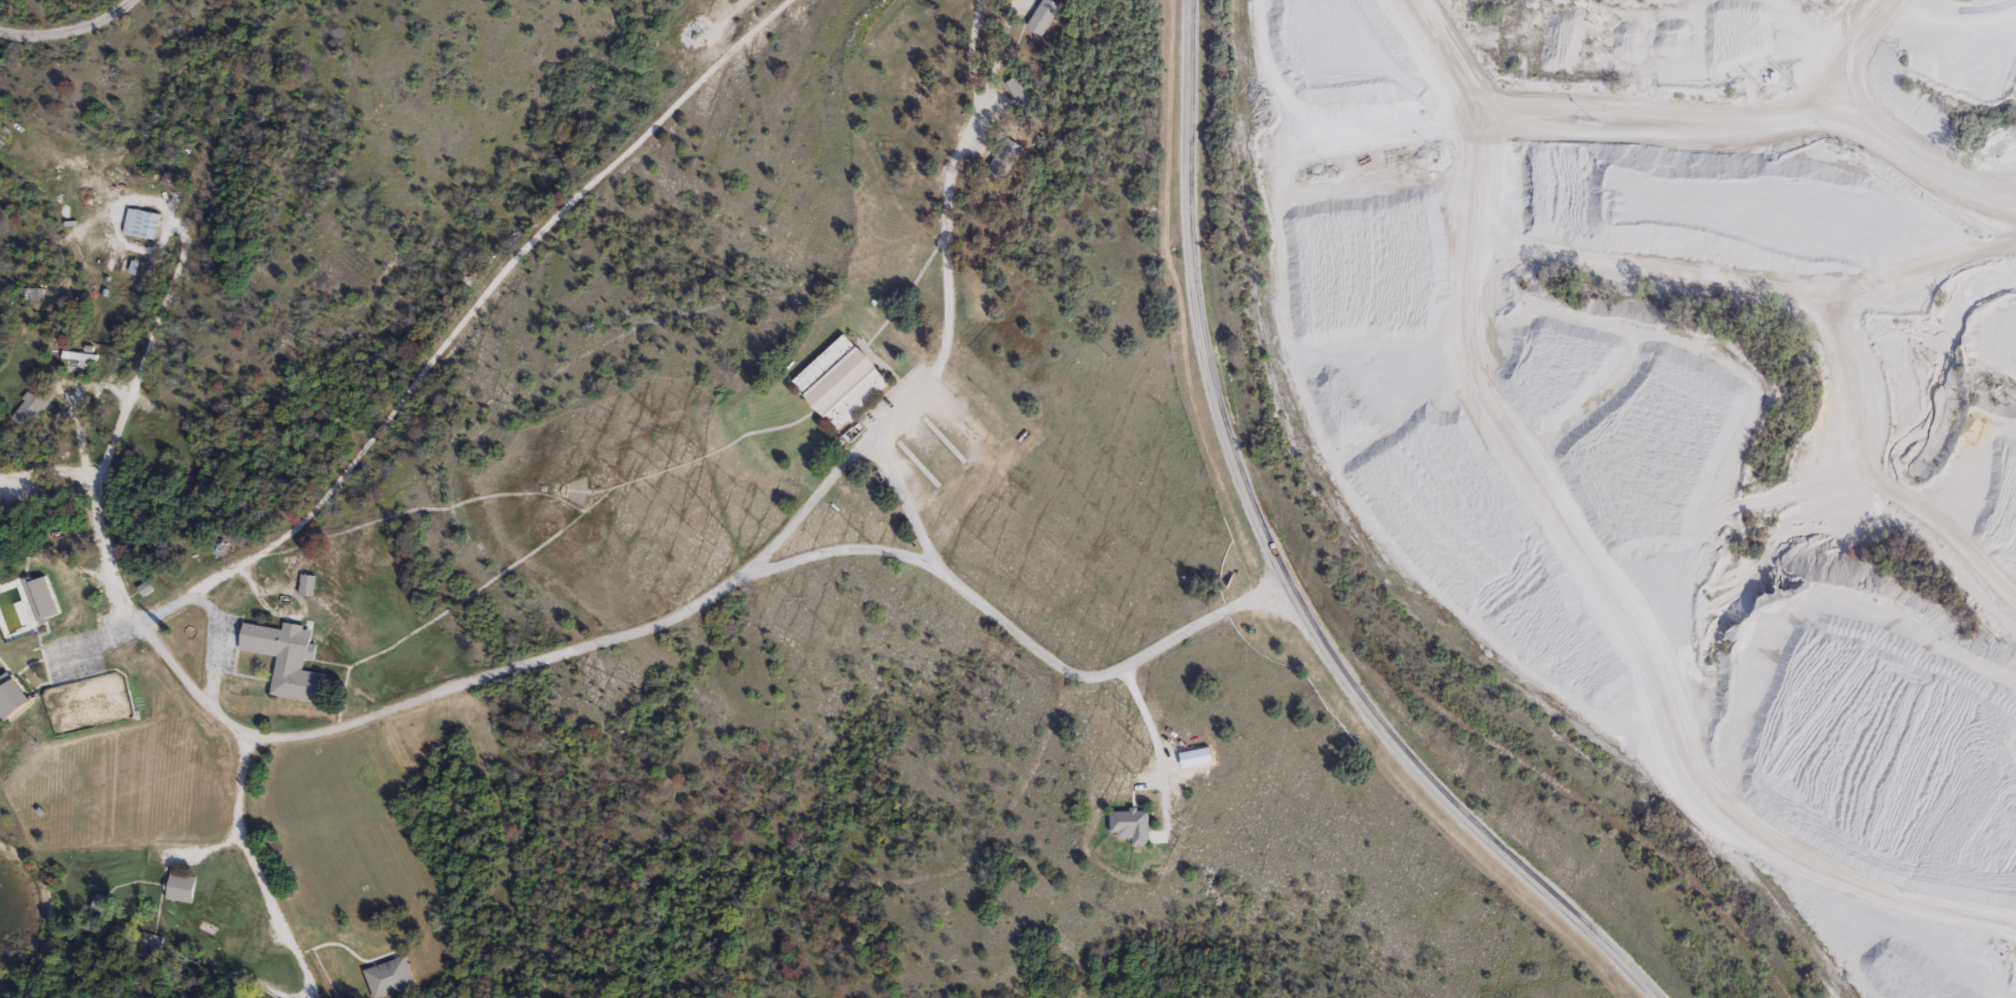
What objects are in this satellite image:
building: (1045, 16)
road: (67, 32)
road: (1837, 57)
building: (1024, 94)
road: (1707, 112)
building: (1005, 158)
building: (142, 224)
road: (462, 315)
building: (78, 356)
building: (841, 382)
quarry: (1690, 405)
building: (31, 408)
road: (47, 469)
road: (95, 497)
road: (904, 500)
road: (785, 527)
road: (1277, 564)
building: (309, 585)
building: (42, 599)
road: (1015, 634)
road: (99, 638)
building: (289, 660)
building: (12, 696)
road: (1148, 723)
building: (1133, 825)
road: (252, 866)
building: (180, 887)
building: (102, 904)
building: (389, 977)
road: (2009, 984)

